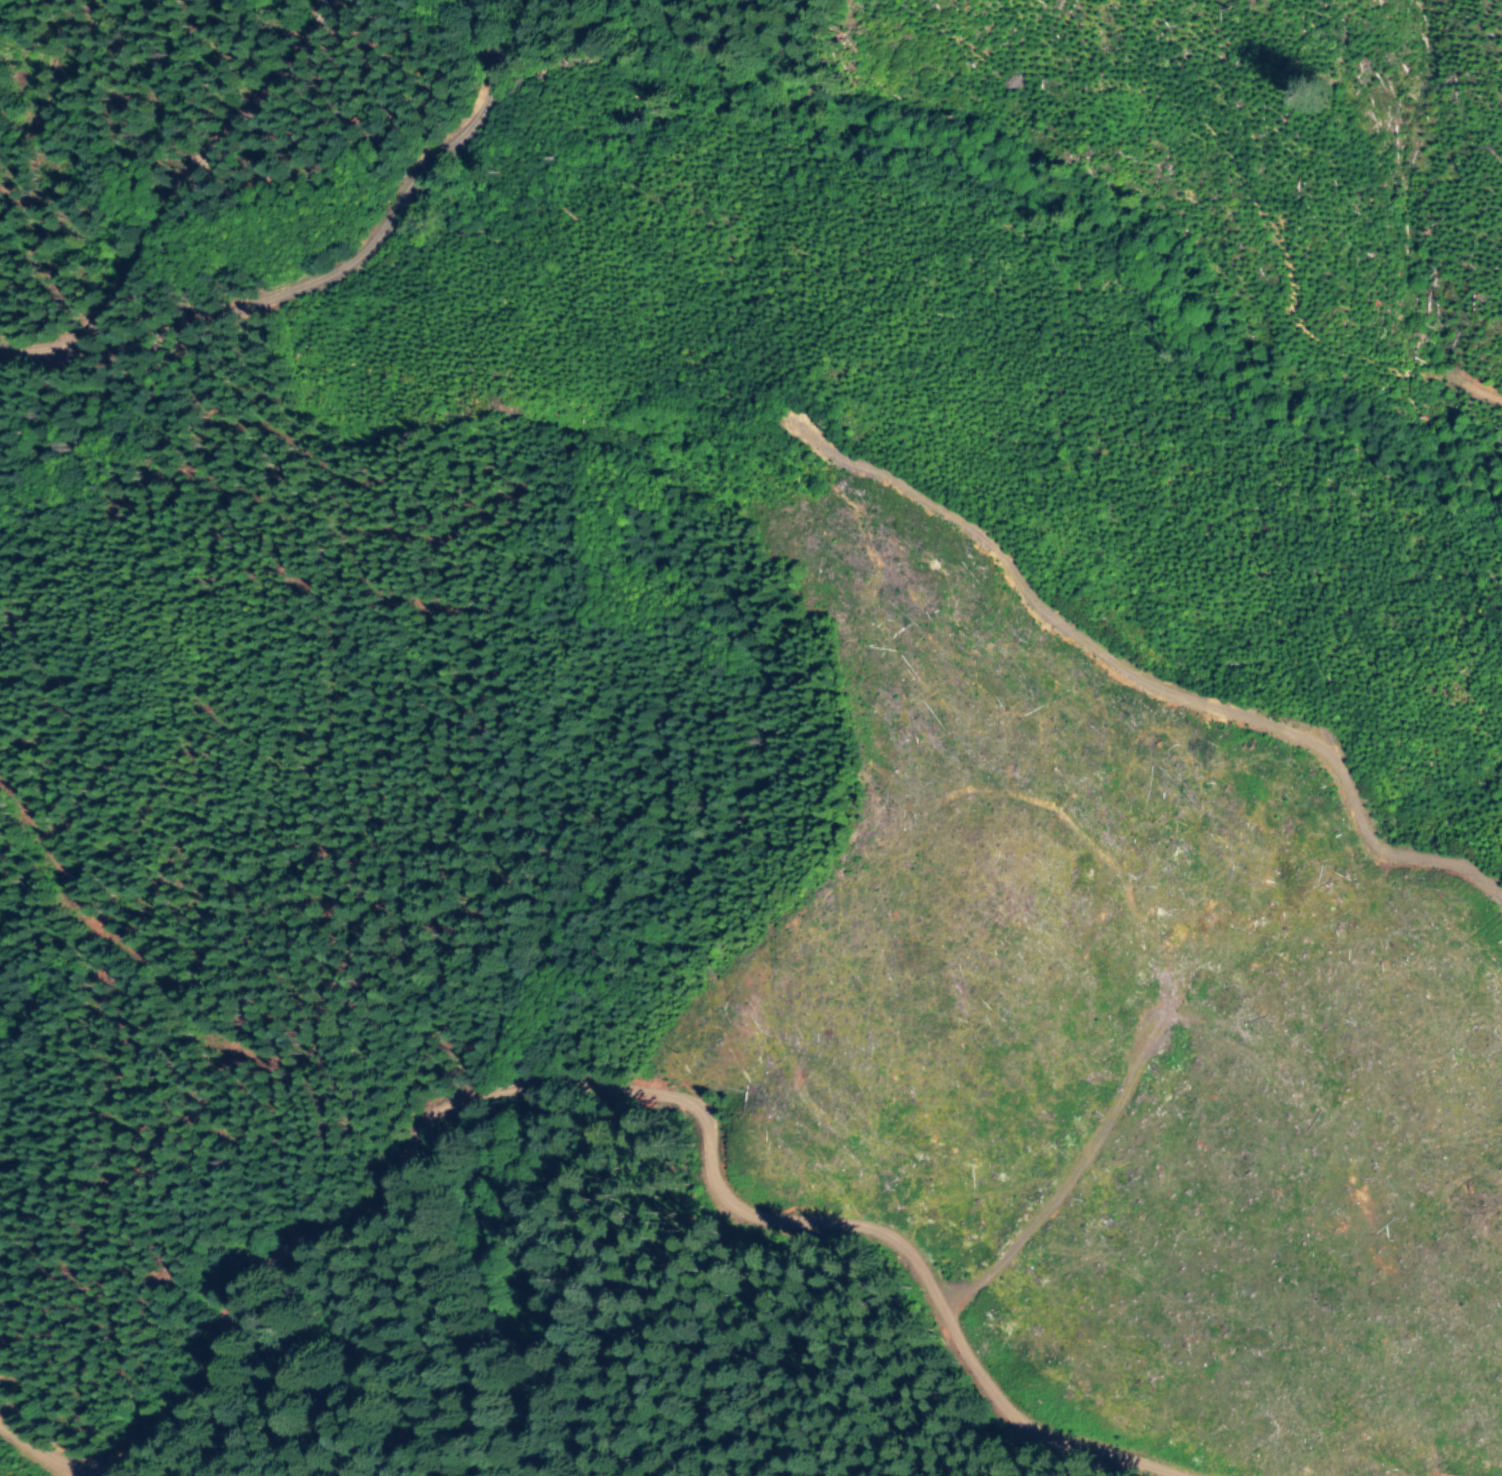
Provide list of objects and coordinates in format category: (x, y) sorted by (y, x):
road: (162, 202)
road: (358, 257)
road: (1149, 689)
road: (610, 1086)
crop: (591, 1328)
road: (1445, 1473)
crop: (1443, 1475)

